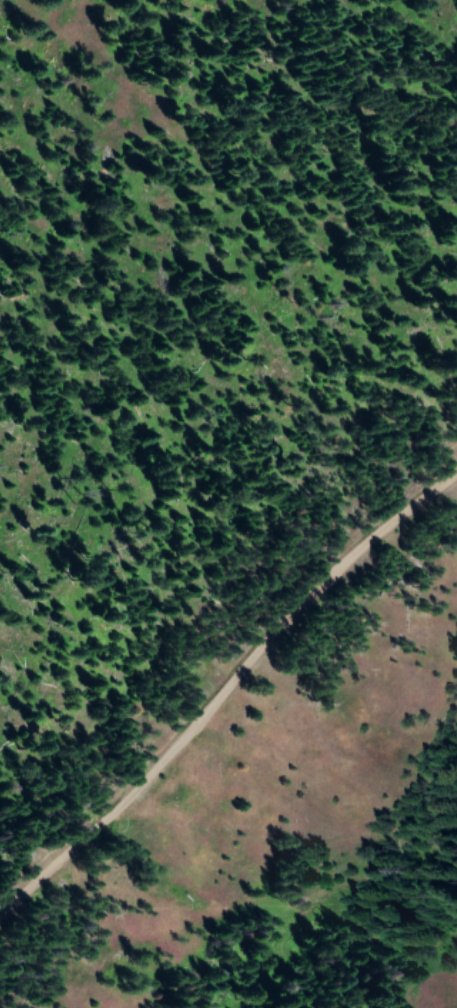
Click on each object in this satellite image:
road: (244, 794)

